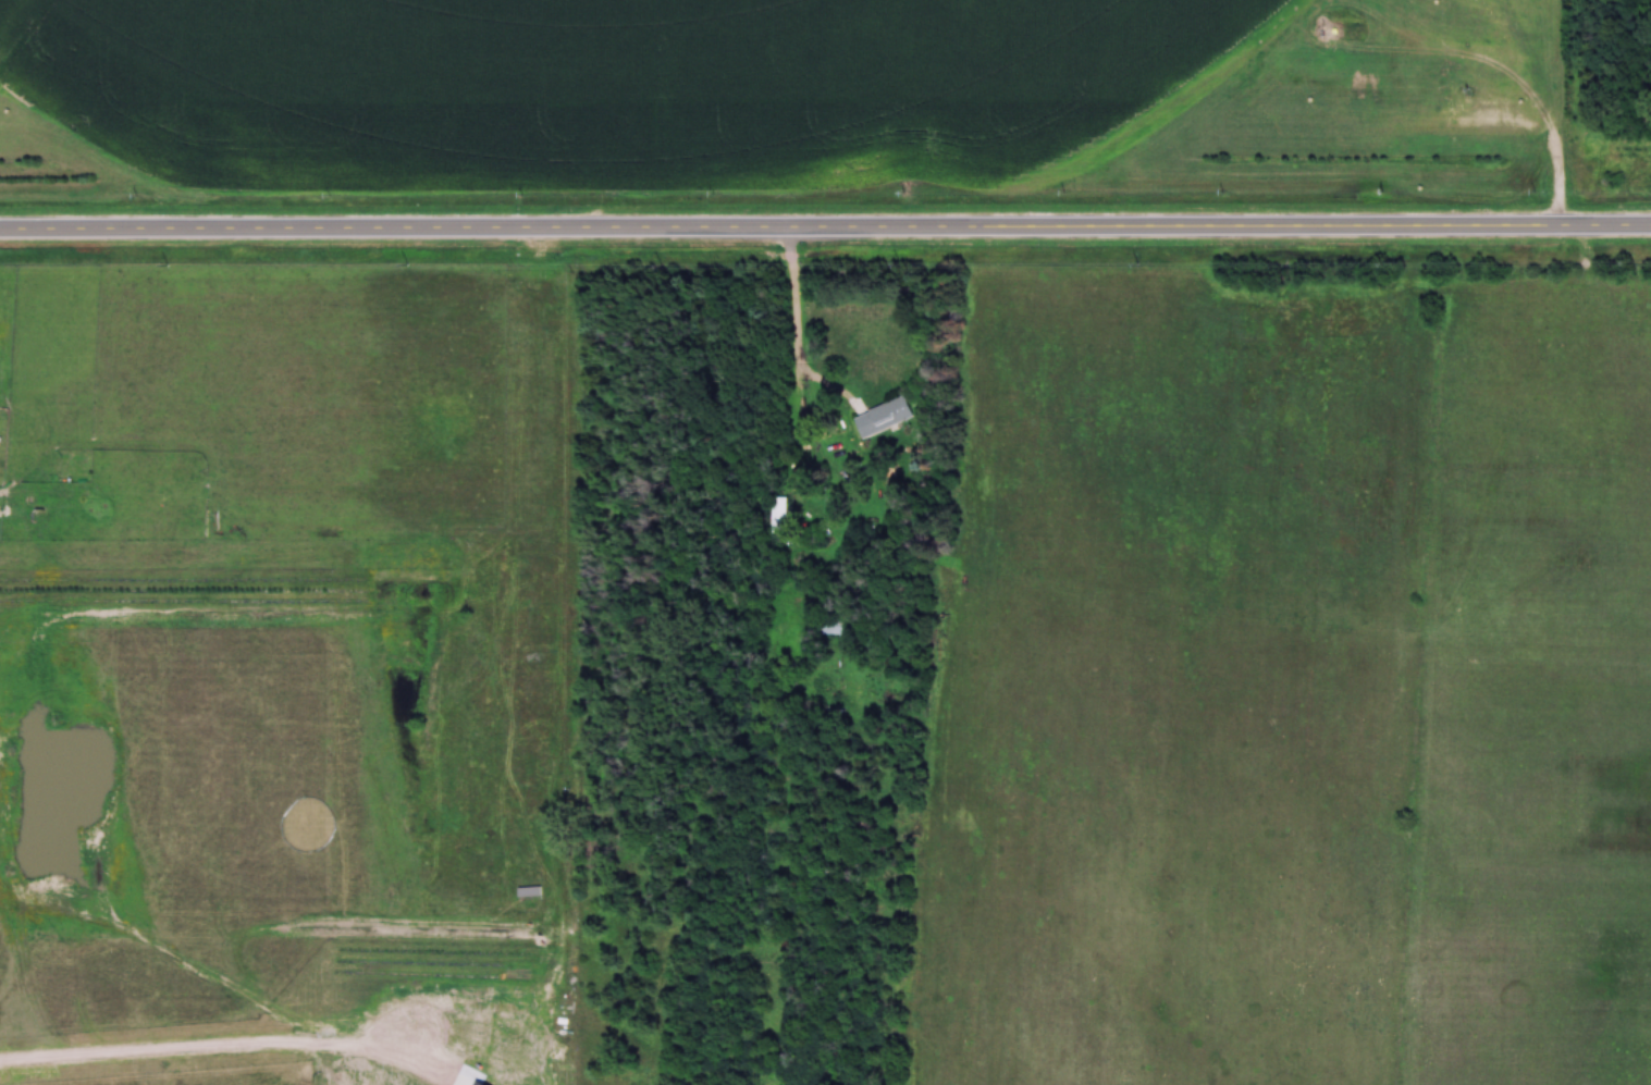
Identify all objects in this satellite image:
road: (825, 225)
road: (794, 332)
building: (886, 418)
building: (777, 511)

